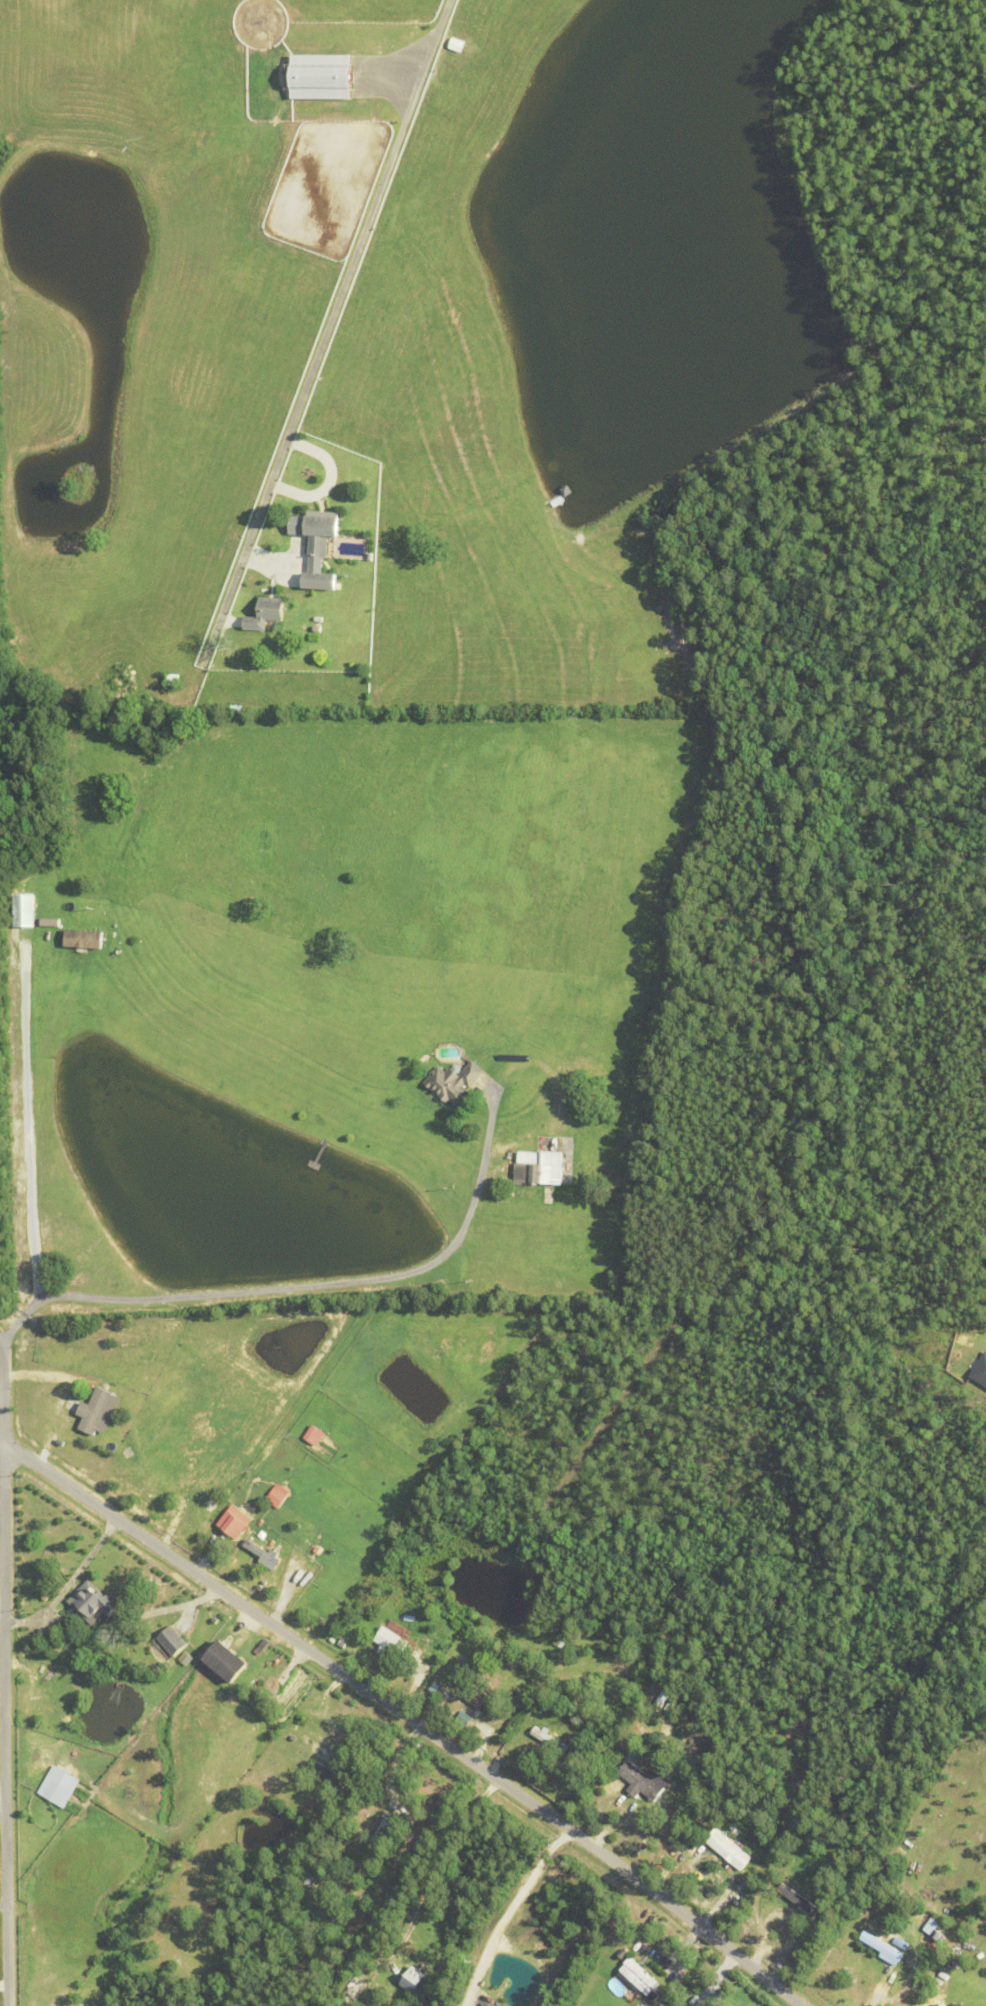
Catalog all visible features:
building: (346, 30)
building: (459, 42)
building: (322, 77)
road: (330, 317)
building: (565, 491)
building: (556, 502)
building: (319, 550)
building: (264, 615)
building: (316, 630)
building: (172, 680)
building: (227, 682)
building: (24, 912)
building: (84, 938)
building: (453, 1084)
road: (20, 1128)
building: (539, 1170)
building: (510, 1201)
road: (295, 1287)
building: (981, 1370)
building: (96, 1406)
building: (314, 1434)
building: (279, 1494)
building: (238, 1528)
building: (263, 1549)
building: (91, 1599)
building: (152, 1610)
building: (410, 1616)
building: (171, 1638)
building: (80, 1639)
building: (390, 1640)
building: (341, 1641)
building: (262, 1644)
building: (226, 1660)
road: (6, 1675)
building: (288, 1685)
building: (479, 1696)
building: (661, 1697)
building: (426, 1702)
building: (672, 1705)
building: (585, 1717)
road: (406, 1719)
building: (549, 1738)
building: (330, 1773)
building: (643, 1779)
building: (60, 1782)
building: (728, 1847)
building: (371, 1848)
building: (711, 1852)
building: (831, 1852)
building: (691, 1855)
building: (382, 1870)
building: (307, 1878)
building: (877, 1878)
building: (804, 1902)
building: (319, 1908)
road: (513, 1914)
building: (869, 1924)
building: (190, 1925)
building: (934, 1928)
building: (882, 1947)
building: (440, 1958)
building: (639, 1977)
building: (411, 1978)
building: (940, 2004)

